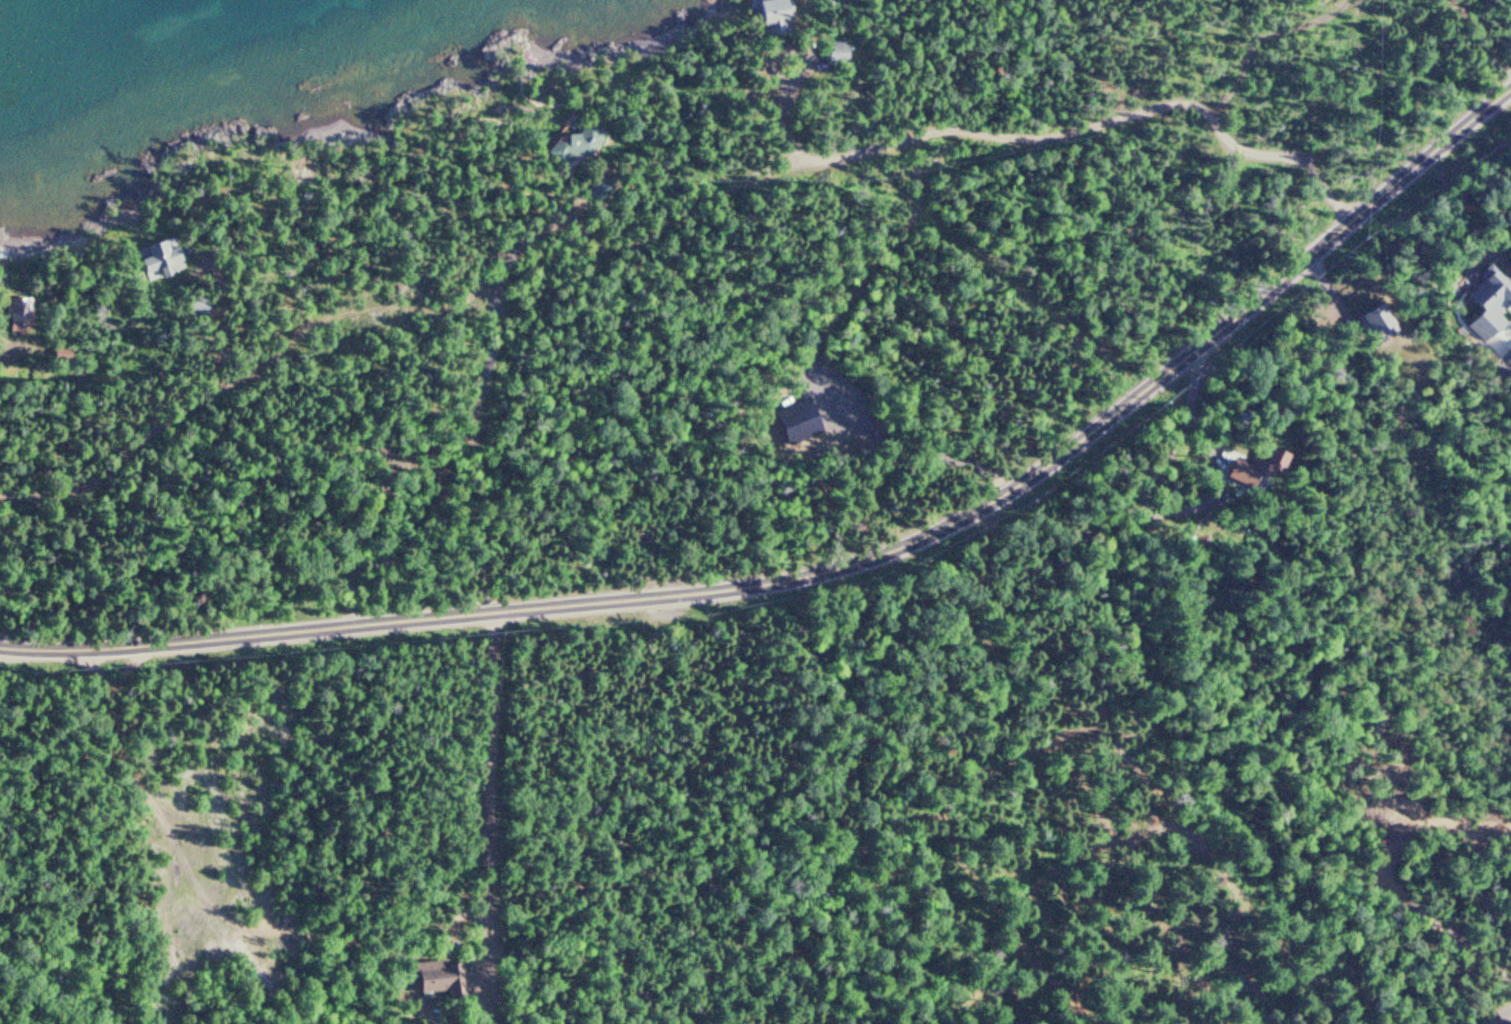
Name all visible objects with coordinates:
building: (763, 12)
road: (1496, 14)
road: (1073, 59)
road: (781, 102)
road: (1093, 115)
road: (369, 228)
building: (1485, 290)
road: (243, 326)
road: (10, 346)
road: (1154, 367)
road: (200, 419)
building: (1269, 462)
building: (1232, 473)
road: (374, 607)
road: (184, 861)
road: (1116, 868)
park: (1146, 931)
building: (441, 970)
road: (1500, 1017)

